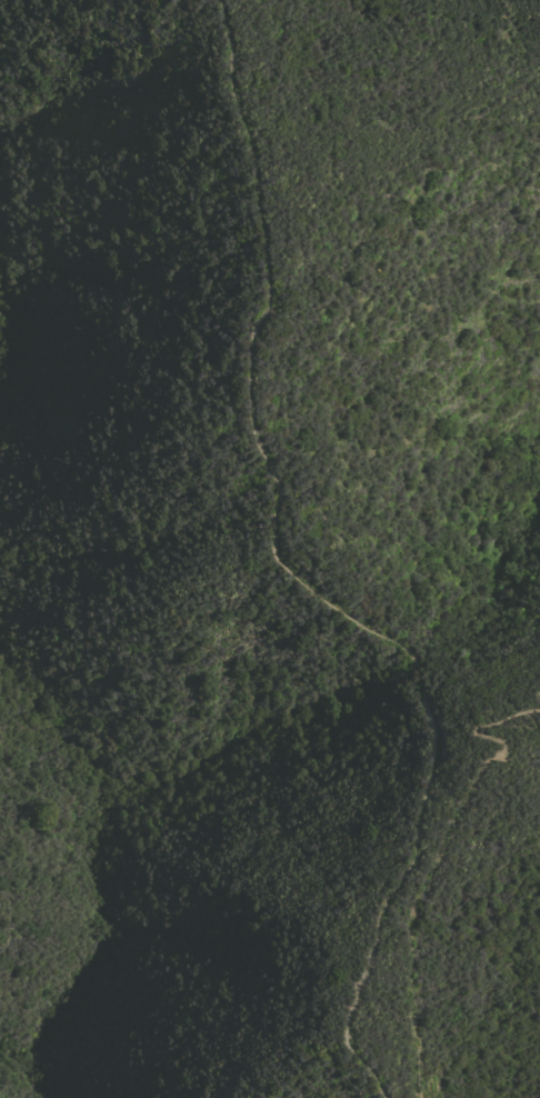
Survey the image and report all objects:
road: (299, 582)

